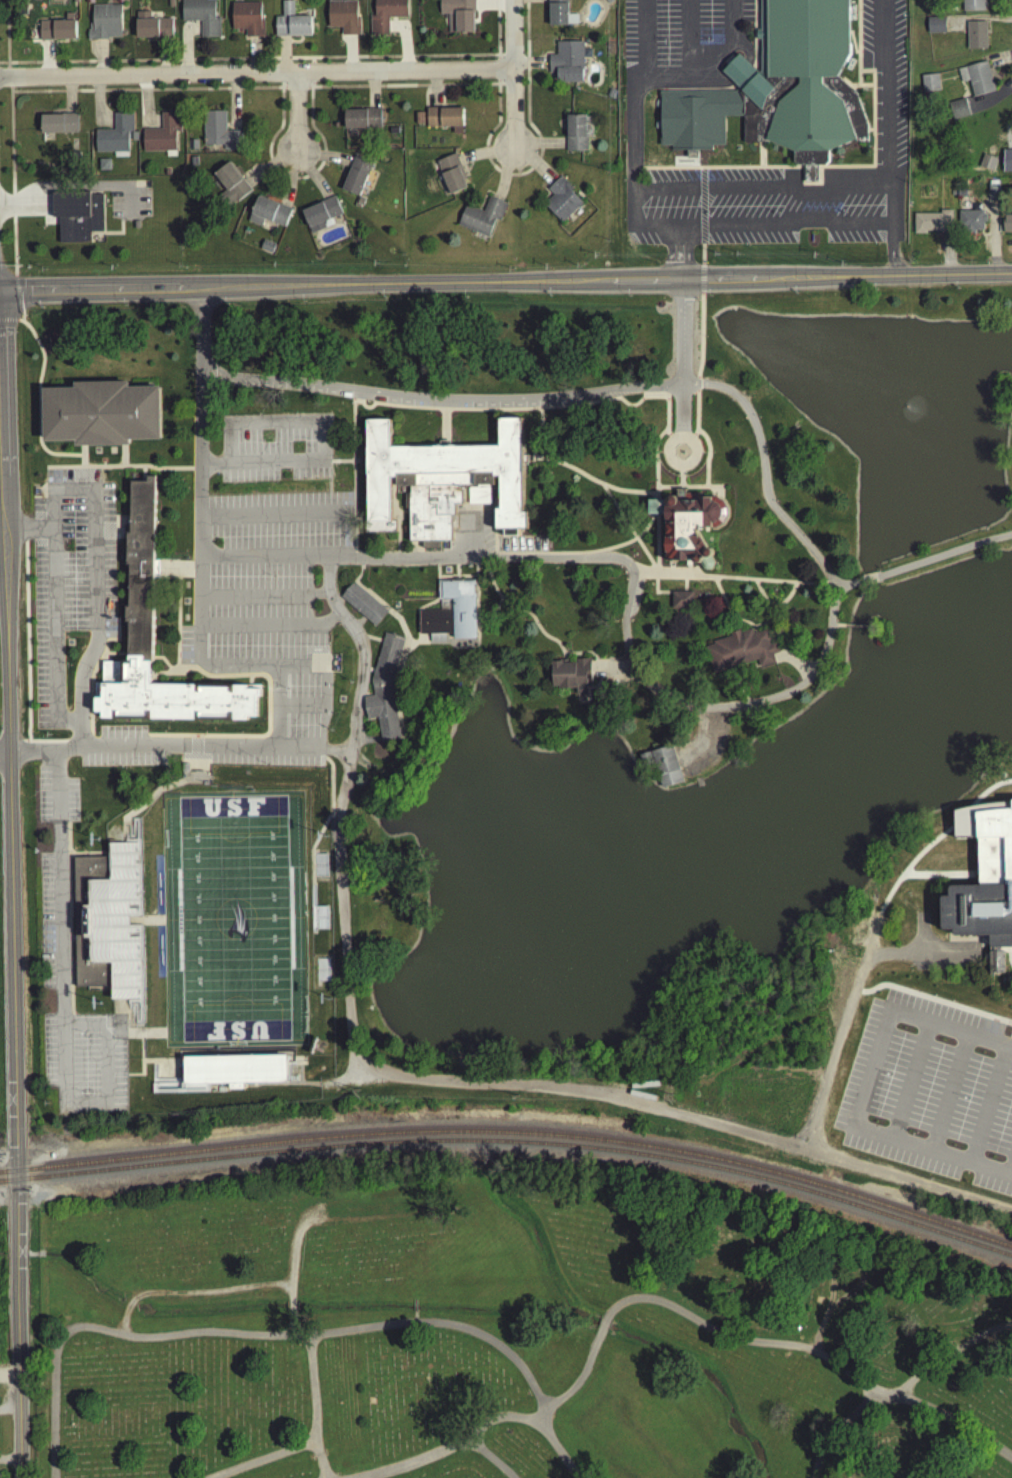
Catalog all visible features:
building: (119, 2)
road: (529, 2)
building: (73, 3)
road: (525, 3)
building: (88, 4)
building: (170, 6)
building: (972, 7)
road: (493, 9)
building: (556, 14)
building: (386, 16)
building: (458, 16)
building: (201, 20)
building: (343, 21)
road: (977, 21)
building: (247, 23)
building: (104, 26)
building: (291, 27)
road: (496, 29)
building: (935, 29)
building: (151, 31)
road: (688, 32)
road: (6, 33)
building: (56, 34)
road: (753, 36)
building: (975, 40)
road: (754, 41)
parking lot: (678, 43)
road: (403, 46)
road: (852, 48)
road: (184, 50)
road: (349, 58)
road: (282, 59)
road: (724, 59)
road: (253, 60)
road: (164, 61)
road: (99, 62)
road: (46, 63)
street lamp: (491, 63)
road: (732, 63)
road: (251, 64)
road: (511, 64)
road: (728, 64)
road: (310, 65)
building: (566, 66)
road: (5, 67)
street lamp: (223, 68)
road: (529, 68)
street lamp: (82, 70)
road: (497, 74)
road: (512, 75)
road: (310, 77)
road: (256, 78)
road: (7, 81)
road: (680, 81)
building: (975, 81)
road: (497, 84)
building: (800, 84)
building: (928, 87)
road: (309, 89)
road: (848, 89)
road: (403, 90)
road: (857, 90)
road: (306, 91)
road: (11, 92)
road: (282, 92)
road: (285, 92)
road: (294, 92)
road: (850, 92)
road: (9, 93)
road: (435, 93)
road: (738, 93)
road: (373, 94)
road: (51, 95)
building: (610, 97)
road: (311, 99)
road: (68, 100)
road: (991, 103)
road: (233, 107)
road: (95, 110)
road: (144, 110)
road: (888, 111)
building: (957, 113)
road: (871, 114)
road: (296, 118)
building: (445, 122)
building: (695, 122)
building: (362, 123)
building: (419, 123)
building: (58, 128)
street lamp: (523, 128)
street lamp: (308, 133)
road: (869, 134)
building: (392, 135)
building: (219, 136)
building: (575, 137)
building: (161, 138)
building: (114, 139)
building: (133, 141)
building: (191, 148)
road: (538, 149)
road: (538, 155)
road: (484, 158)
road: (760, 160)
road: (323, 161)
building: (191, 165)
road: (533, 168)
road: (269, 170)
road: (831, 171)
road: (632, 173)
road: (502, 177)
building: (357, 178)
building: (451, 178)
parking lot: (793, 179)
road: (312, 180)
road: (297, 182)
road: (290, 184)
building: (229, 189)
road: (89, 192)
building: (992, 196)
road: (100, 200)
road: (25, 203)
building: (561, 204)
parking lot: (129, 205)
building: (359, 205)
road: (701, 210)
road: (36, 212)
building: (321, 216)
building: (268, 217)
road: (784, 219)
building: (76, 220)
building: (481, 220)
road: (124, 222)
building: (969, 225)
road: (50, 226)
building: (931, 226)
building: (1006, 227)
road: (58, 228)
building: (135, 229)
road: (112, 236)
road: (110, 238)
road: (992, 241)
building: (266, 251)
road: (891, 251)
road: (684, 254)
road: (668, 256)
road: (946, 257)
road: (701, 259)
road: (699, 270)
road: (653, 279)
road: (742, 279)
road: (898, 279)
road: (391, 283)
road: (701, 284)
road: (87, 288)
road: (17, 298)
road: (702, 299)
road: (7, 325)
road: (18, 326)
road: (699, 341)
road: (202, 350)
road: (681, 357)
road: (74, 387)
road: (152, 387)
road: (696, 390)
parking lot: (282, 392)
road: (353, 396)
road: (440, 397)
road: (653, 397)
road: (681, 398)
road: (350, 403)
parking lot: (586, 403)
road: (356, 406)
parking lot: (397, 406)
road: (697, 407)
parking lot: (507, 409)
road: (365, 412)
fountain: (905, 412)
road: (523, 413)
road: (522, 414)
road: (449, 416)
building: (102, 418)
road: (541, 421)
road: (444, 432)
road: (666, 437)
road: (695, 438)
road: (322, 442)
road: (669, 442)
road: (691, 442)
road: (38, 445)
road: (655, 448)
road: (115, 451)
road: (100, 452)
parking lot: (272, 452)
road: (1, 455)
road: (82, 455)
road: (198, 457)
road: (353, 460)
road: (123, 461)
road: (529, 463)
road: (327, 466)
road: (342, 466)
road: (357, 466)
road: (706, 467)
road: (684, 471)
road: (64, 472)
road: (177, 473)
road: (689, 473)
road: (192, 474)
road: (571, 474)
road: (680, 474)
road: (328, 475)
road: (763, 475)
road: (142, 479)
road: (680, 485)
building: (444, 487)
road: (328, 491)
road: (717, 492)
road: (712, 494)
road: (396, 495)
road: (495, 495)
road: (467, 497)
road: (327, 498)
road: (339, 499)
road: (353, 499)
road: (463, 499)
road: (393, 501)
road: (2, 509)
road: (478, 509)
road: (656, 511)
road: (460, 512)
road: (46, 516)
road: (617, 516)
road: (402, 518)
road: (275, 519)
road: (350, 519)
road: (353, 519)
road: (653, 522)
road: (360, 524)
road: (366, 525)
building: (689, 530)
parking lot: (486, 531)
road: (644, 531)
road: (494, 534)
road: (26, 535)
road: (521, 535)
road: (1, 536)
street lamp: (73, 537)
road: (354, 538)
road: (397, 538)
road: (520, 544)
road: (352, 546)
parking lot: (520, 550)
road: (548, 558)
road: (944, 559)
road: (268, 560)
road: (397, 560)
road: (359, 562)
road: (192, 567)
road: (650, 567)
road: (361, 570)
road: (184, 571)
road: (455, 571)
road: (475, 571)
building: (141, 572)
road: (669, 572)
road: (688, 572)
road: (694, 572)
road: (667, 573)
road: (159, 575)
road: (195, 575)
road: (655, 575)
road: (663, 578)
road: (171, 579)
road: (461, 579)
street lamp: (272, 581)
road: (456, 581)
road: (878, 581)
parking lot: (69, 582)
road: (868, 583)
road: (94, 585)
road: (763, 585)
road: (328, 589)
road: (846, 589)
road: (183, 593)
road: (668, 598)
road: (264, 599)
road: (344, 599)
parking lot: (634, 602)
road: (188, 603)
parking lot: (268, 603)
building: (682, 605)
road: (434, 606)
building: (362, 608)
road: (773, 608)
road: (383, 611)
road: (477, 612)
road: (727, 616)
building: (450, 617)
road: (490, 618)
road: (625, 619)
road: (475, 621)
road: (182, 625)
road: (771, 625)
road: (357, 626)
road: (268, 630)
road: (535, 630)
road: (836, 631)
road: (856, 631)
road: (843, 633)
road: (368, 642)
road: (53, 643)
road: (418, 645)
road: (7, 646)
road: (464, 646)
road: (26, 648)
road: (441, 648)
building: (740, 654)
road: (114, 658)
road: (103, 663)
road: (564, 664)
road: (401, 665)
road: (793, 665)
road: (164, 667)
road: (99, 669)
road: (291, 669)
road: (93, 673)
road: (611, 675)
road: (162, 678)
building: (571, 679)
road: (264, 682)
street lamp: (351, 686)
road: (92, 691)
street lamp: (286, 694)
building: (384, 694)
road: (358, 699)
building: (167, 701)
road: (277, 701)
road: (294, 710)
road: (396, 713)
parking lot: (121, 736)
road: (116, 739)
road: (272, 741)
road: (76, 742)
parking lot: (719, 742)
road: (366, 745)
road: (698, 745)
road: (11, 746)
road: (45, 746)
road: (191, 752)
road: (298, 752)
road: (702, 752)
road: (5, 758)
road: (32, 758)
road: (321, 761)
road: (357, 763)
parking lot: (120, 764)
parking lot: (267, 765)
parking lot: (359, 765)
building: (663, 770)
pier: (697, 788)
parking lot: (55, 798)
road: (149, 799)
road: (967, 809)
road: (129, 825)
road: (125, 832)
road: (12, 844)
road: (131, 846)
road: (332, 852)
road: (922, 855)
road: (106, 858)
road: (911, 875)
road: (941, 879)
building: (983, 884)
road: (68, 923)
road: (138, 923)
park: (233, 923)
parking lot: (53, 924)
road: (133, 925)
road: (150, 925)
building: (110, 928)
stadium: (110, 928)
road: (920, 938)
road: (1010, 955)
road: (1003, 956)
road: (928, 957)
road: (1009, 957)
road: (1011, 961)
road: (869, 962)
road: (863, 999)
road: (932, 1004)
road: (118, 1012)
road: (123, 1012)
road: (61, 1013)
road: (94, 1021)
road: (1011, 1040)
road: (164, 1044)
road: (141, 1046)
road: (1009, 1047)
road: (14, 1057)
road: (830, 1060)
road: (149, 1065)
parking lot: (84, 1066)
road: (166, 1067)
building: (235, 1075)
road: (301, 1078)
road: (908, 1085)
road: (342, 1087)
road: (454, 1087)
road: (310, 1088)
road: (273, 1089)
road: (861, 1090)
road: (193, 1091)
parking lot: (930, 1096)
road: (947, 1096)
road: (987, 1109)
railway: (512, 1137)
railway: (520, 1147)
road: (1010, 1174)
railway: (8, 1185)
road: (934, 1190)
road: (16, 1220)
road: (17, 1315)
road: (697, 1318)
park: (509, 1330)
road: (288, 1333)
road: (949, 1350)
road: (8, 1375)
road: (18, 1387)
road: (317, 1405)
road: (9, 1406)
road: (502, 1416)
road: (957, 1419)
road: (840, 1427)
road: (19, 1438)
road: (493, 1457)
road: (266, 1458)
road: (407, 1463)

